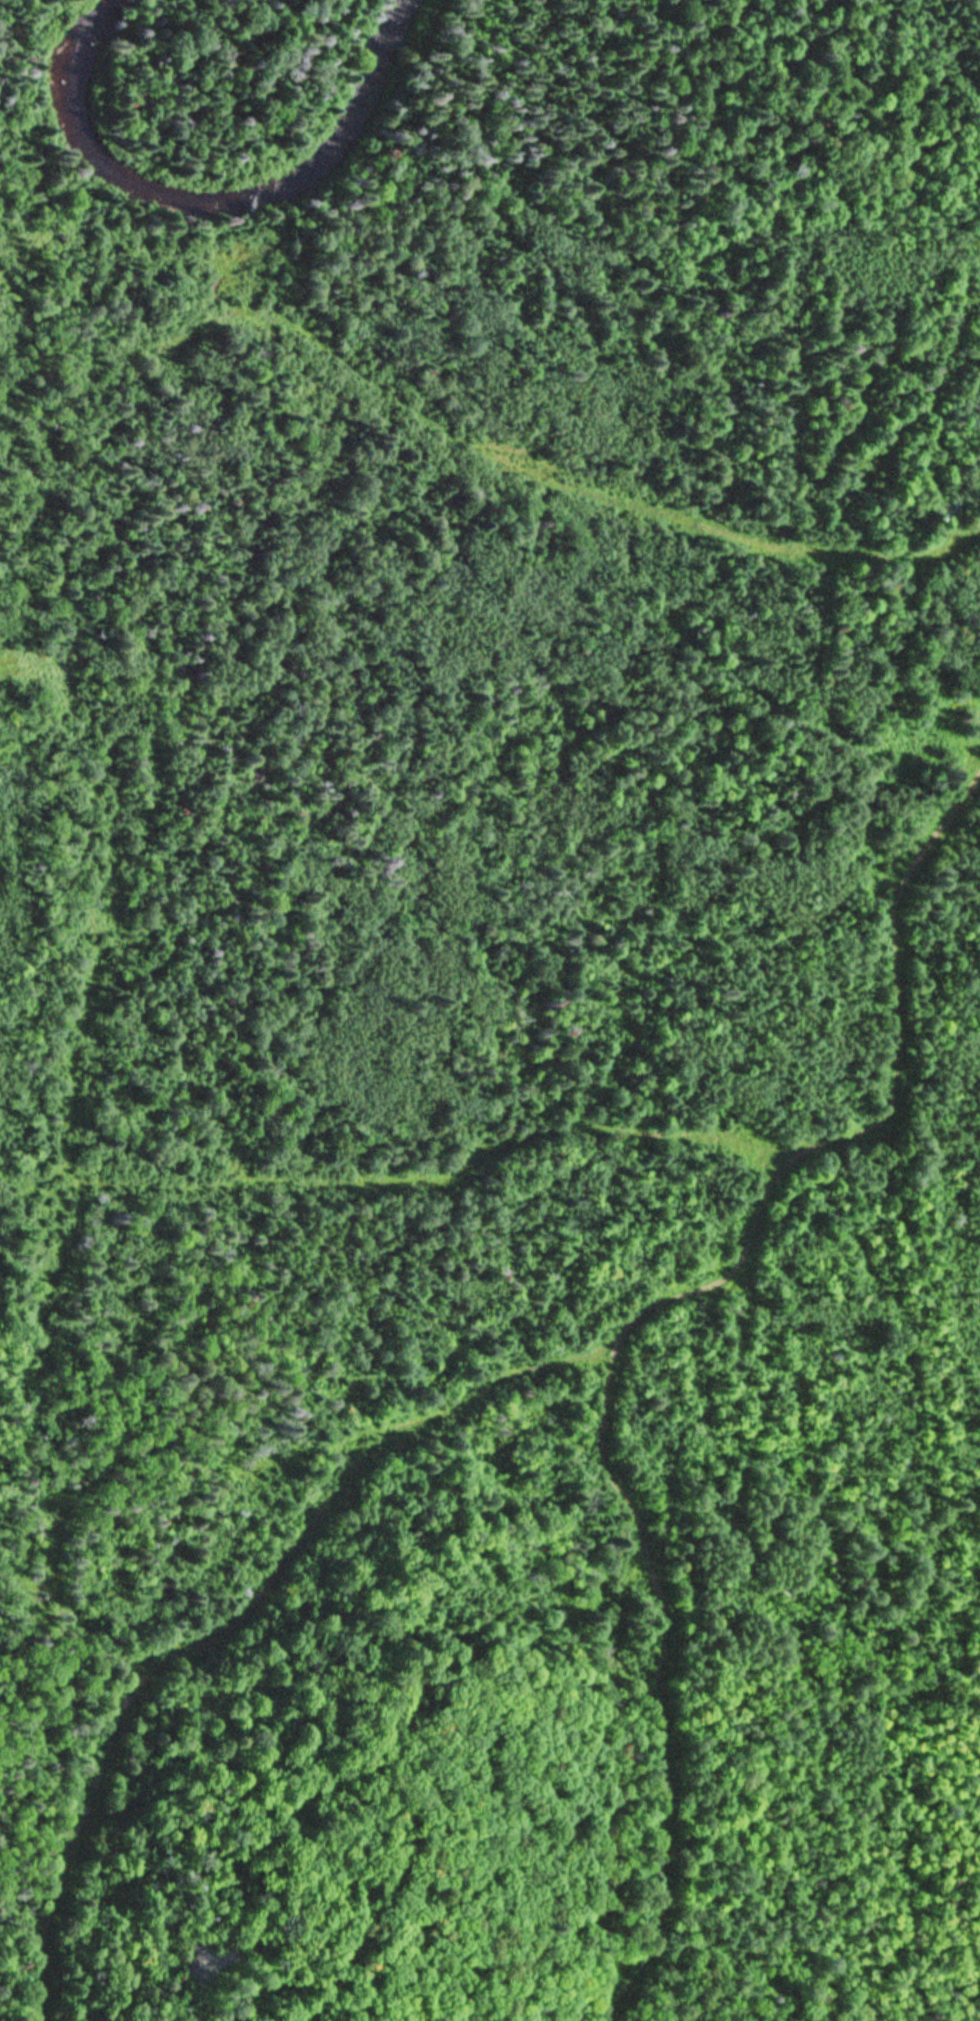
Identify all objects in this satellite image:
river: (199, 195)

